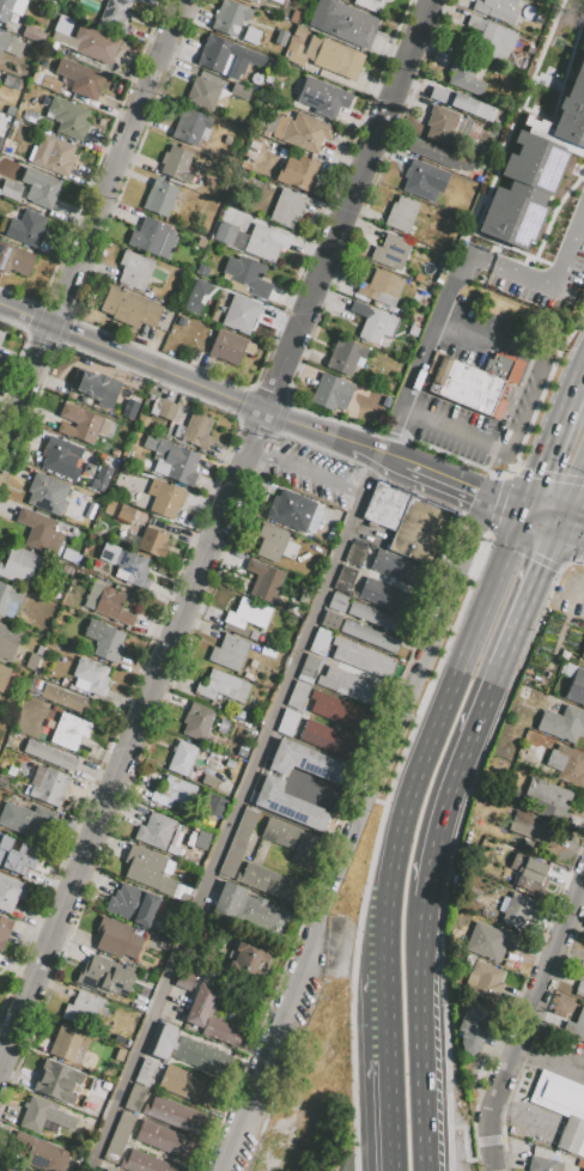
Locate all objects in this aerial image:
building: (251, 1)
building: (370, 5)
building: (11, 8)
building: (498, 10)
building: (115, 14)
building: (294, 16)
building: (230, 17)
building: (343, 22)
building: (299, 31)
building: (34, 35)
building: (250, 36)
building: (281, 37)
building: (83, 40)
building: (491, 40)
building: (10, 44)
building: (327, 56)
building: (226, 57)
building: (464, 74)
building: (86, 84)
building: (202, 93)
building: (241, 96)
building: (318, 98)
building: (462, 103)
building: (572, 104)
building: (68, 117)
building: (439, 125)
building: (190, 127)
building: (303, 132)
building: (53, 154)
building: (250, 154)
building: (438, 156)
building: (176, 164)
building: (247, 164)
building: (298, 174)
road: (360, 177)
building: (424, 180)
building: (39, 187)
building: (524, 188)
building: (10, 189)
building: (159, 199)
building: (267, 206)
building: (286, 208)
building: (402, 213)
road: (92, 227)
building: (26, 229)
building: (225, 233)
building: (148, 236)
building: (200, 243)
building: (264, 243)
building: (394, 253)
building: (13, 259)
parking lot: (541, 260)
building: (134, 271)
building: (202, 271)
building: (248, 275)
road: (542, 283)
building: (381, 285)
building: (422, 299)
building: (129, 308)
building: (241, 314)
building: (414, 320)
building: (181, 321)
building: (373, 321)
road: (446, 324)
building: (414, 334)
building: (1, 335)
road: (432, 340)
street lamp: (570, 341)
building: (230, 347)
building: (345, 357)
road: (174, 376)
building: (472, 383)
parking lot: (536, 386)
building: (98, 388)
road: (543, 389)
building: (331, 393)
road: (529, 406)
road: (267, 407)
building: (164, 409)
road: (410, 413)
building: (129, 415)
building: (141, 420)
building: (83, 424)
building: (196, 430)
road: (391, 433)
building: (172, 435)
road: (558, 445)
road: (377, 456)
building: (60, 457)
building: (172, 457)
building: (111, 462)
road: (306, 473)
parking lot: (314, 475)
road: (546, 481)
building: (99, 485)
road: (467, 492)
building: (47, 493)
road: (572, 498)
building: (164, 499)
building: (376, 503)
road: (499, 509)
building: (290, 510)
building: (393, 510)
building: (428, 510)
traffic signals: (531, 511)
building: (124, 512)
road: (546, 517)
building: (424, 521)
traffic signals: (560, 524)
road: (572, 528)
building: (39, 532)
building: (419, 534)
building: (152, 541)
building: (274, 544)
building: (413, 550)
building: (107, 551)
building: (355, 553)
road: (577, 553)
building: (67, 554)
road: (523, 558)
building: (20, 565)
road: (577, 565)
building: (397, 568)
building: (132, 569)
building: (263, 580)
building: (345, 581)
building: (8, 596)
building: (388, 597)
building: (337, 602)
building: (108, 603)
building: (245, 617)
building: (377, 618)
building: (330, 619)
building: (369, 636)
building: (104, 639)
building: (320, 641)
building: (7, 642)
building: (229, 651)
building: (582, 651)
building: (363, 657)
building: (31, 661)
building: (309, 668)
building: (2, 675)
building: (92, 675)
road: (489, 682)
building: (348, 685)
building: (221, 686)
building: (576, 687)
building: (298, 694)
building: (66, 699)
building: (340, 712)
building: (287, 721)
building: (197, 722)
building: (562, 723)
building: (69, 732)
road: (432, 738)
building: (330, 740)
road: (391, 740)
building: (49, 756)
building: (182, 757)
road: (123, 763)
building: (305, 763)
building: (567, 764)
building: (209, 781)
building: (47, 784)
building: (174, 793)
building: (550, 796)
building: (212, 805)
building: (288, 805)
road: (236, 813)
building: (25, 819)
building: (527, 826)
building: (154, 830)
building: (293, 842)
building: (238, 843)
road: (372, 847)
road: (451, 855)
building: (19, 856)
road: (432, 867)
building: (528, 867)
building: (148, 870)
building: (269, 882)
building: (10, 892)
building: (132, 904)
building: (518, 910)
building: (250, 911)
building: (4, 929)
building: (205, 938)
building: (117, 939)
building: (491, 941)
road: (346, 945)
building: (247, 961)
road: (317, 963)
building: (467, 963)
building: (583, 972)
building: (104, 975)
building: (184, 979)
building: (483, 982)
building: (579, 989)
building: (111, 997)
building: (116, 1008)
building: (83, 1009)
building: (195, 1015)
road: (383, 1023)
building: (473, 1025)
road: (525, 1025)
building: (576, 1025)
road: (426, 1029)
building: (164, 1042)
building: (66, 1043)
road: (553, 1048)
parking lot: (559, 1052)
building: (121, 1057)
building: (201, 1057)
building: (146, 1072)
road: (266, 1076)
building: (59, 1081)
building: (188, 1087)
building: (135, 1098)
building: (561, 1106)
building: (176, 1115)
building: (43, 1116)
road: (388, 1118)
building: (117, 1140)
building: (166, 1140)
road: (488, 1146)
road: (462, 1147)
building: (41, 1152)
road: (476, 1155)
building: (261, 1158)
building: (145, 1163)
building: (543, 1164)
building: (108, 1170)

